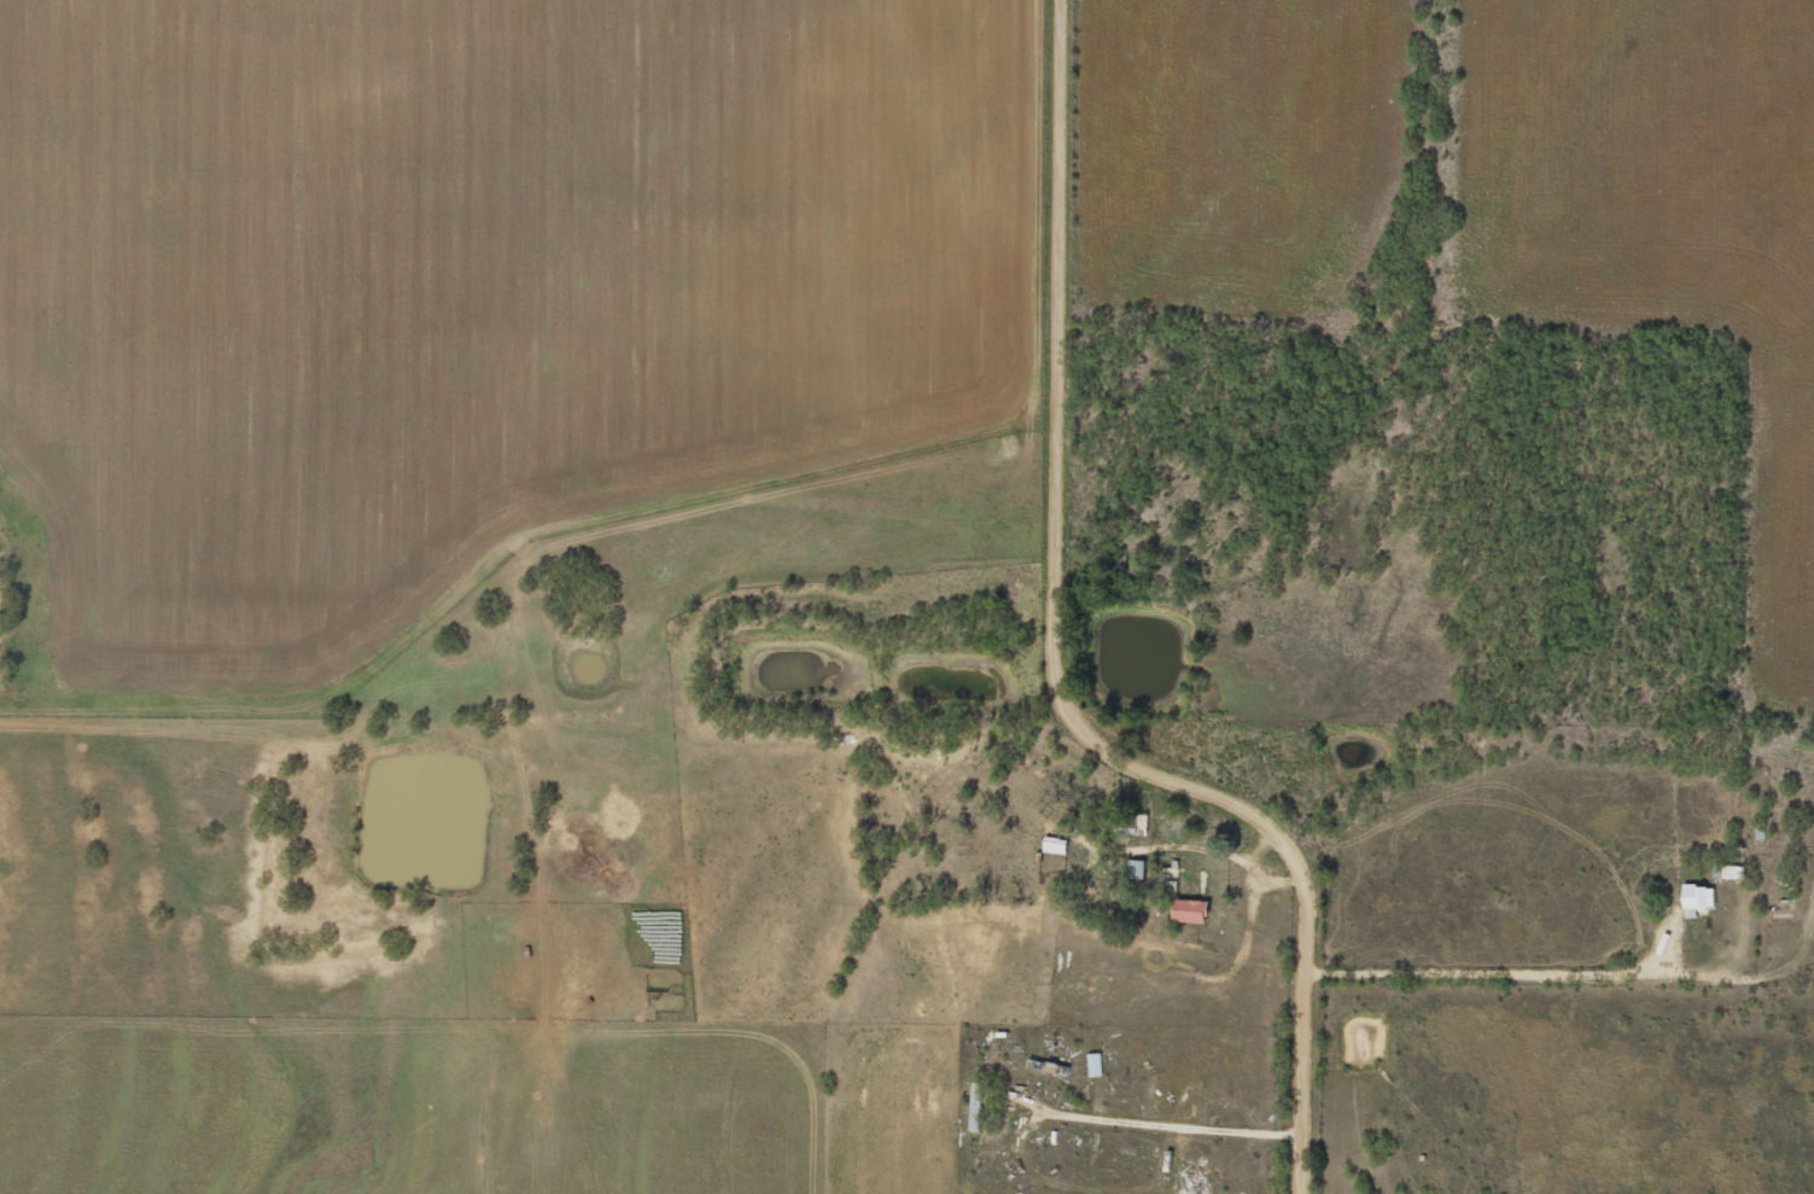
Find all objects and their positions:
road: (1069, 692)
road: (568, 714)
building: (1050, 845)
building: (1005, 857)
building: (1180, 880)
road: (1583, 881)
building: (1692, 898)
building: (661, 926)
road: (893, 1010)
building: (1090, 1065)
building: (972, 1108)

